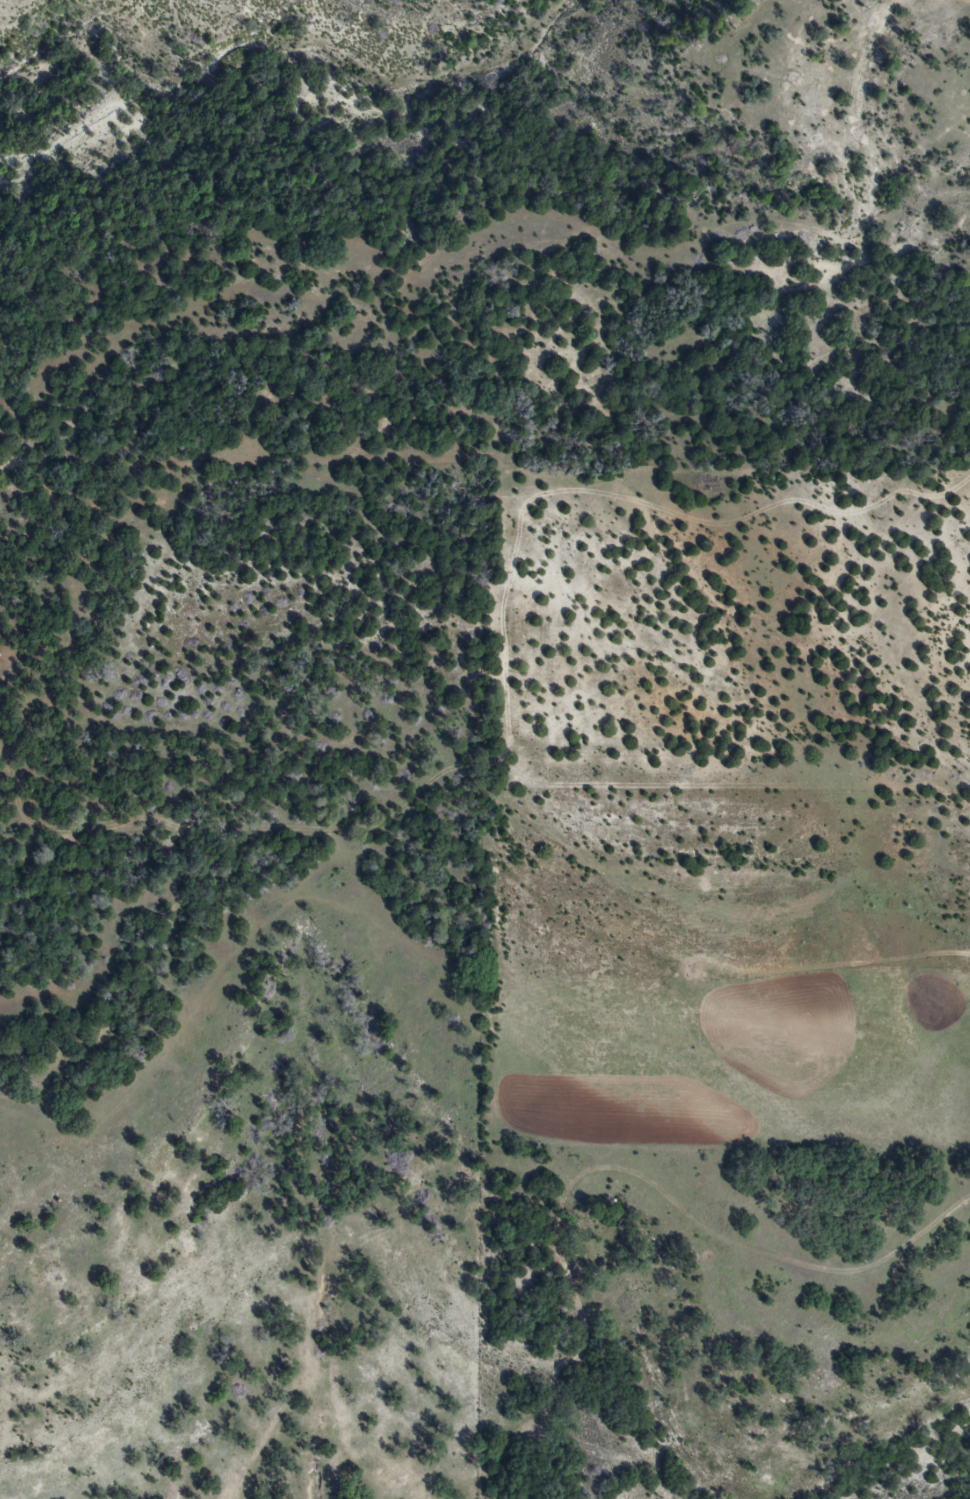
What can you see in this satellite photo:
road: (318, 540)
road: (489, 1013)

